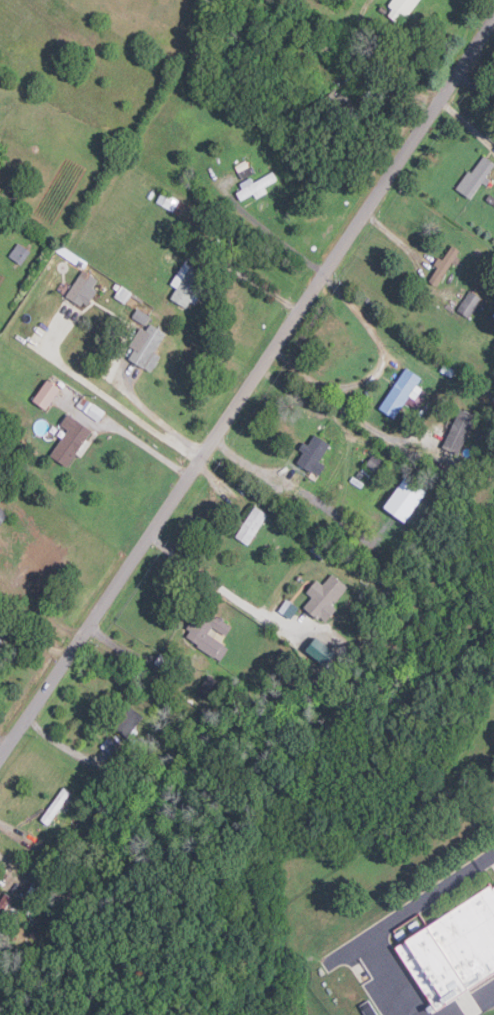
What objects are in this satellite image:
building: (346, 0)
building: (402, 8)
road: (476, 11)
road: (381, 59)
building: (493, 154)
building: (476, 177)
building: (254, 187)
building: (19, 253)
building: (444, 265)
road: (250, 279)
building: (186, 285)
building: (83, 289)
building: (470, 304)
building: (146, 347)
road: (376, 371)
road: (248, 387)
road: (95, 389)
building: (46, 394)
building: (400, 394)
road: (355, 417)
road: (155, 419)
building: (458, 431)
building: (70, 440)
building: (313, 457)
building: (2, 515)
building: (250, 527)
road: (216, 585)
building: (324, 597)
building: (209, 635)
road: (33, 637)
building: (0, 639)
building: (207, 686)
building: (131, 720)
road: (3, 745)
road: (486, 858)
building: (4, 902)
road: (386, 924)
building: (454, 946)
road: (473, 1001)

